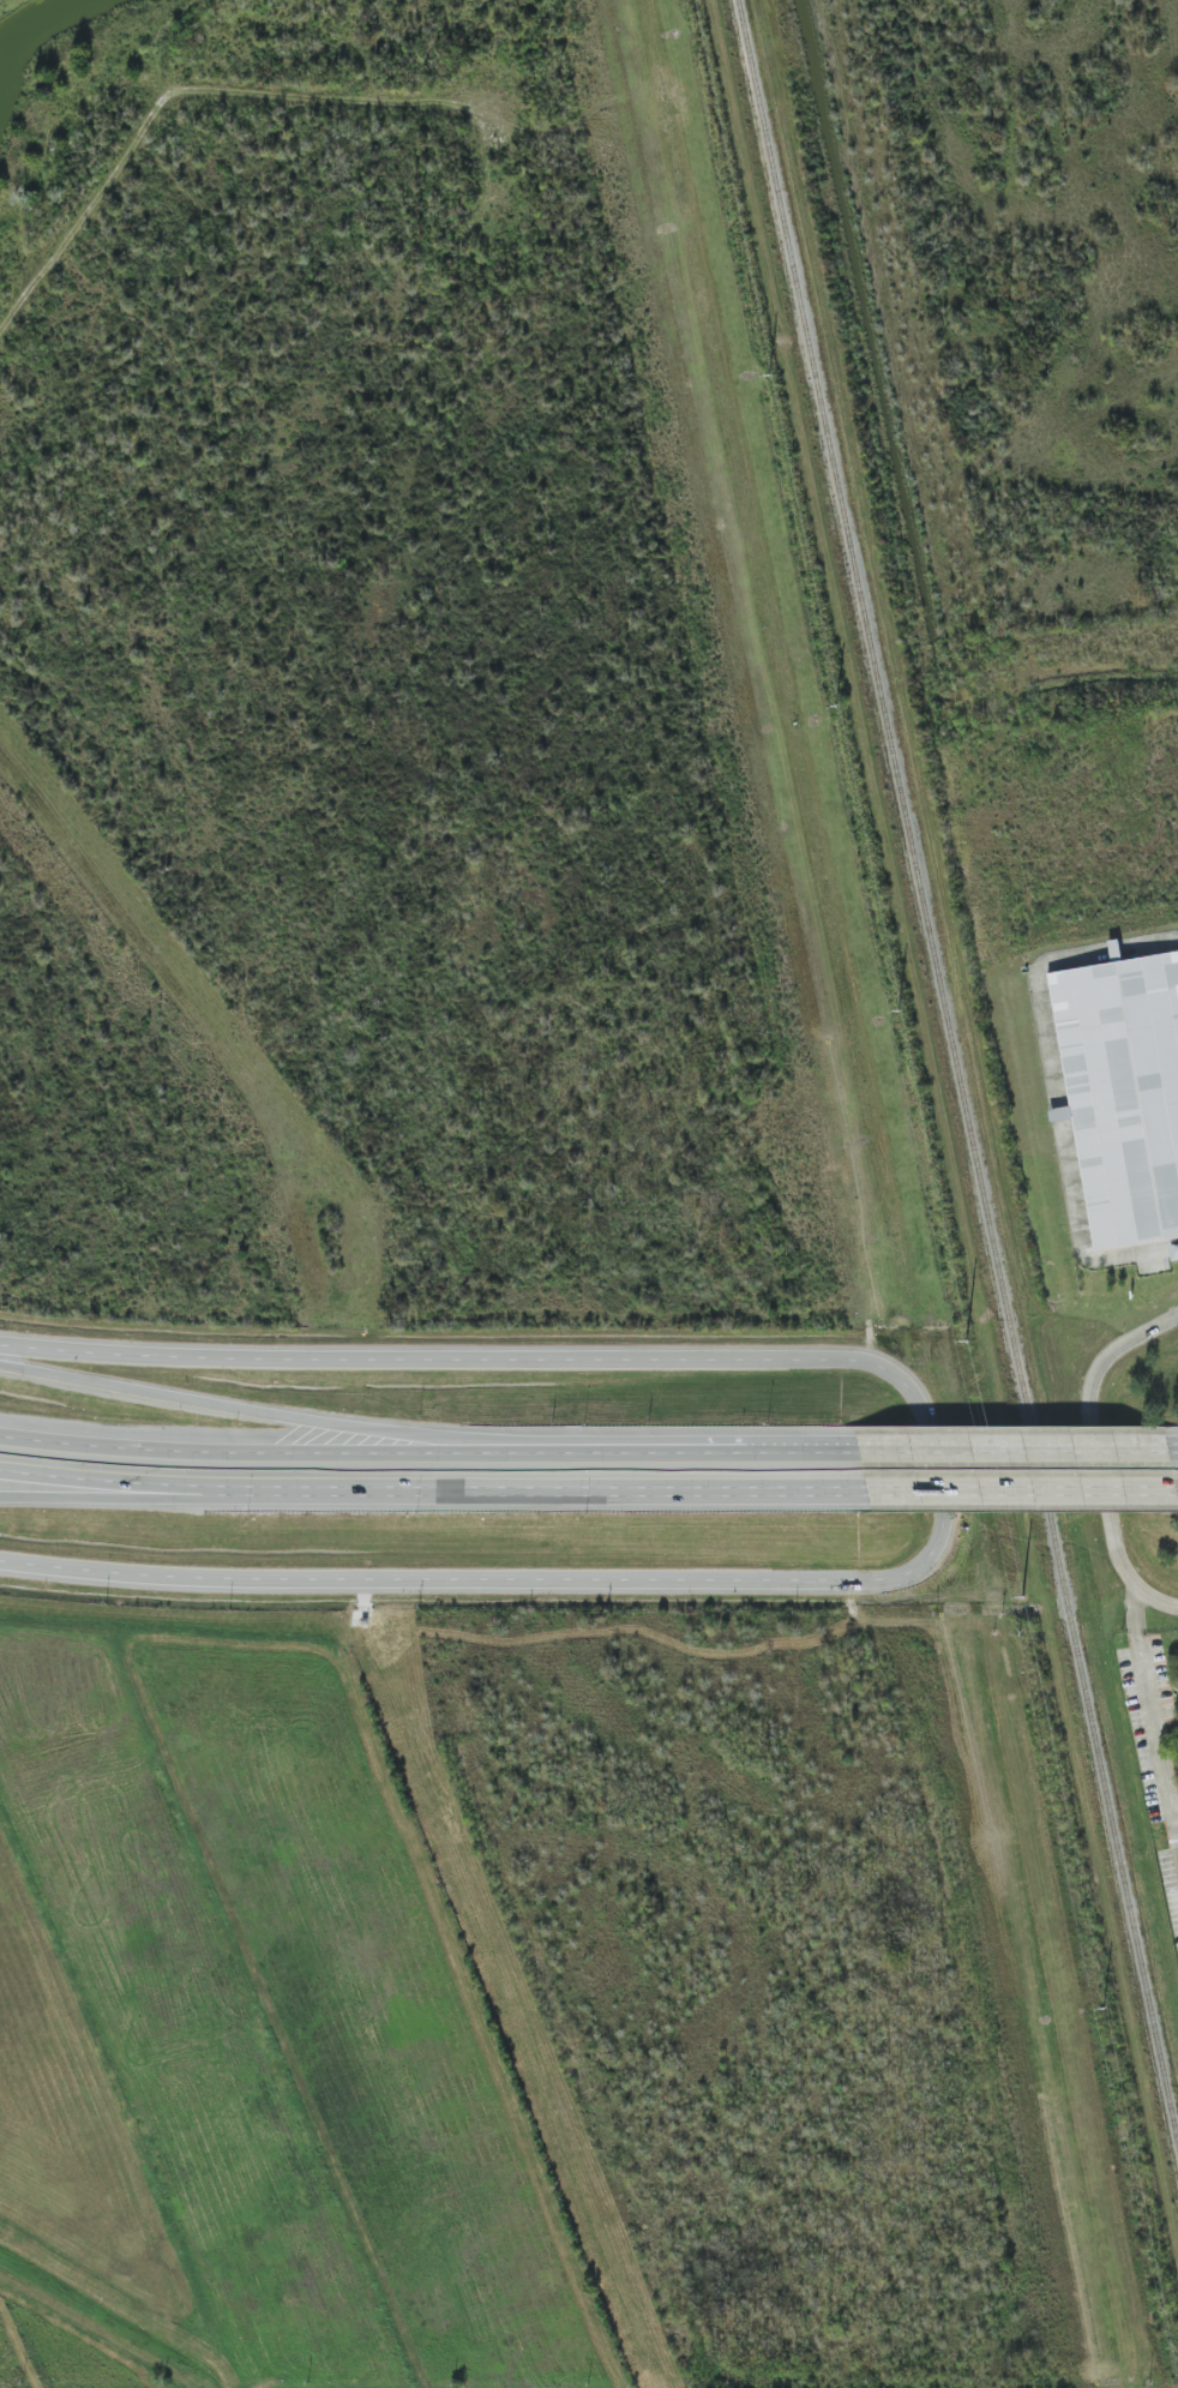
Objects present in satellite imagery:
railway: (958, 1070)
road: (1054, 1087)
building: (1123, 1092)
road: (343, 1424)
road: (1006, 1451)
road: (768, 1452)
road: (1174, 1452)
road: (1095, 1453)
road: (347, 1459)
road: (939, 1478)
road: (1174, 1488)
road: (1006, 1489)
road: (157, 1493)
road: (579, 1495)
road: (158, 1499)
road: (1136, 1610)
road: (1153, 1722)
road: (1174, 1812)
road: (1174, 1830)

